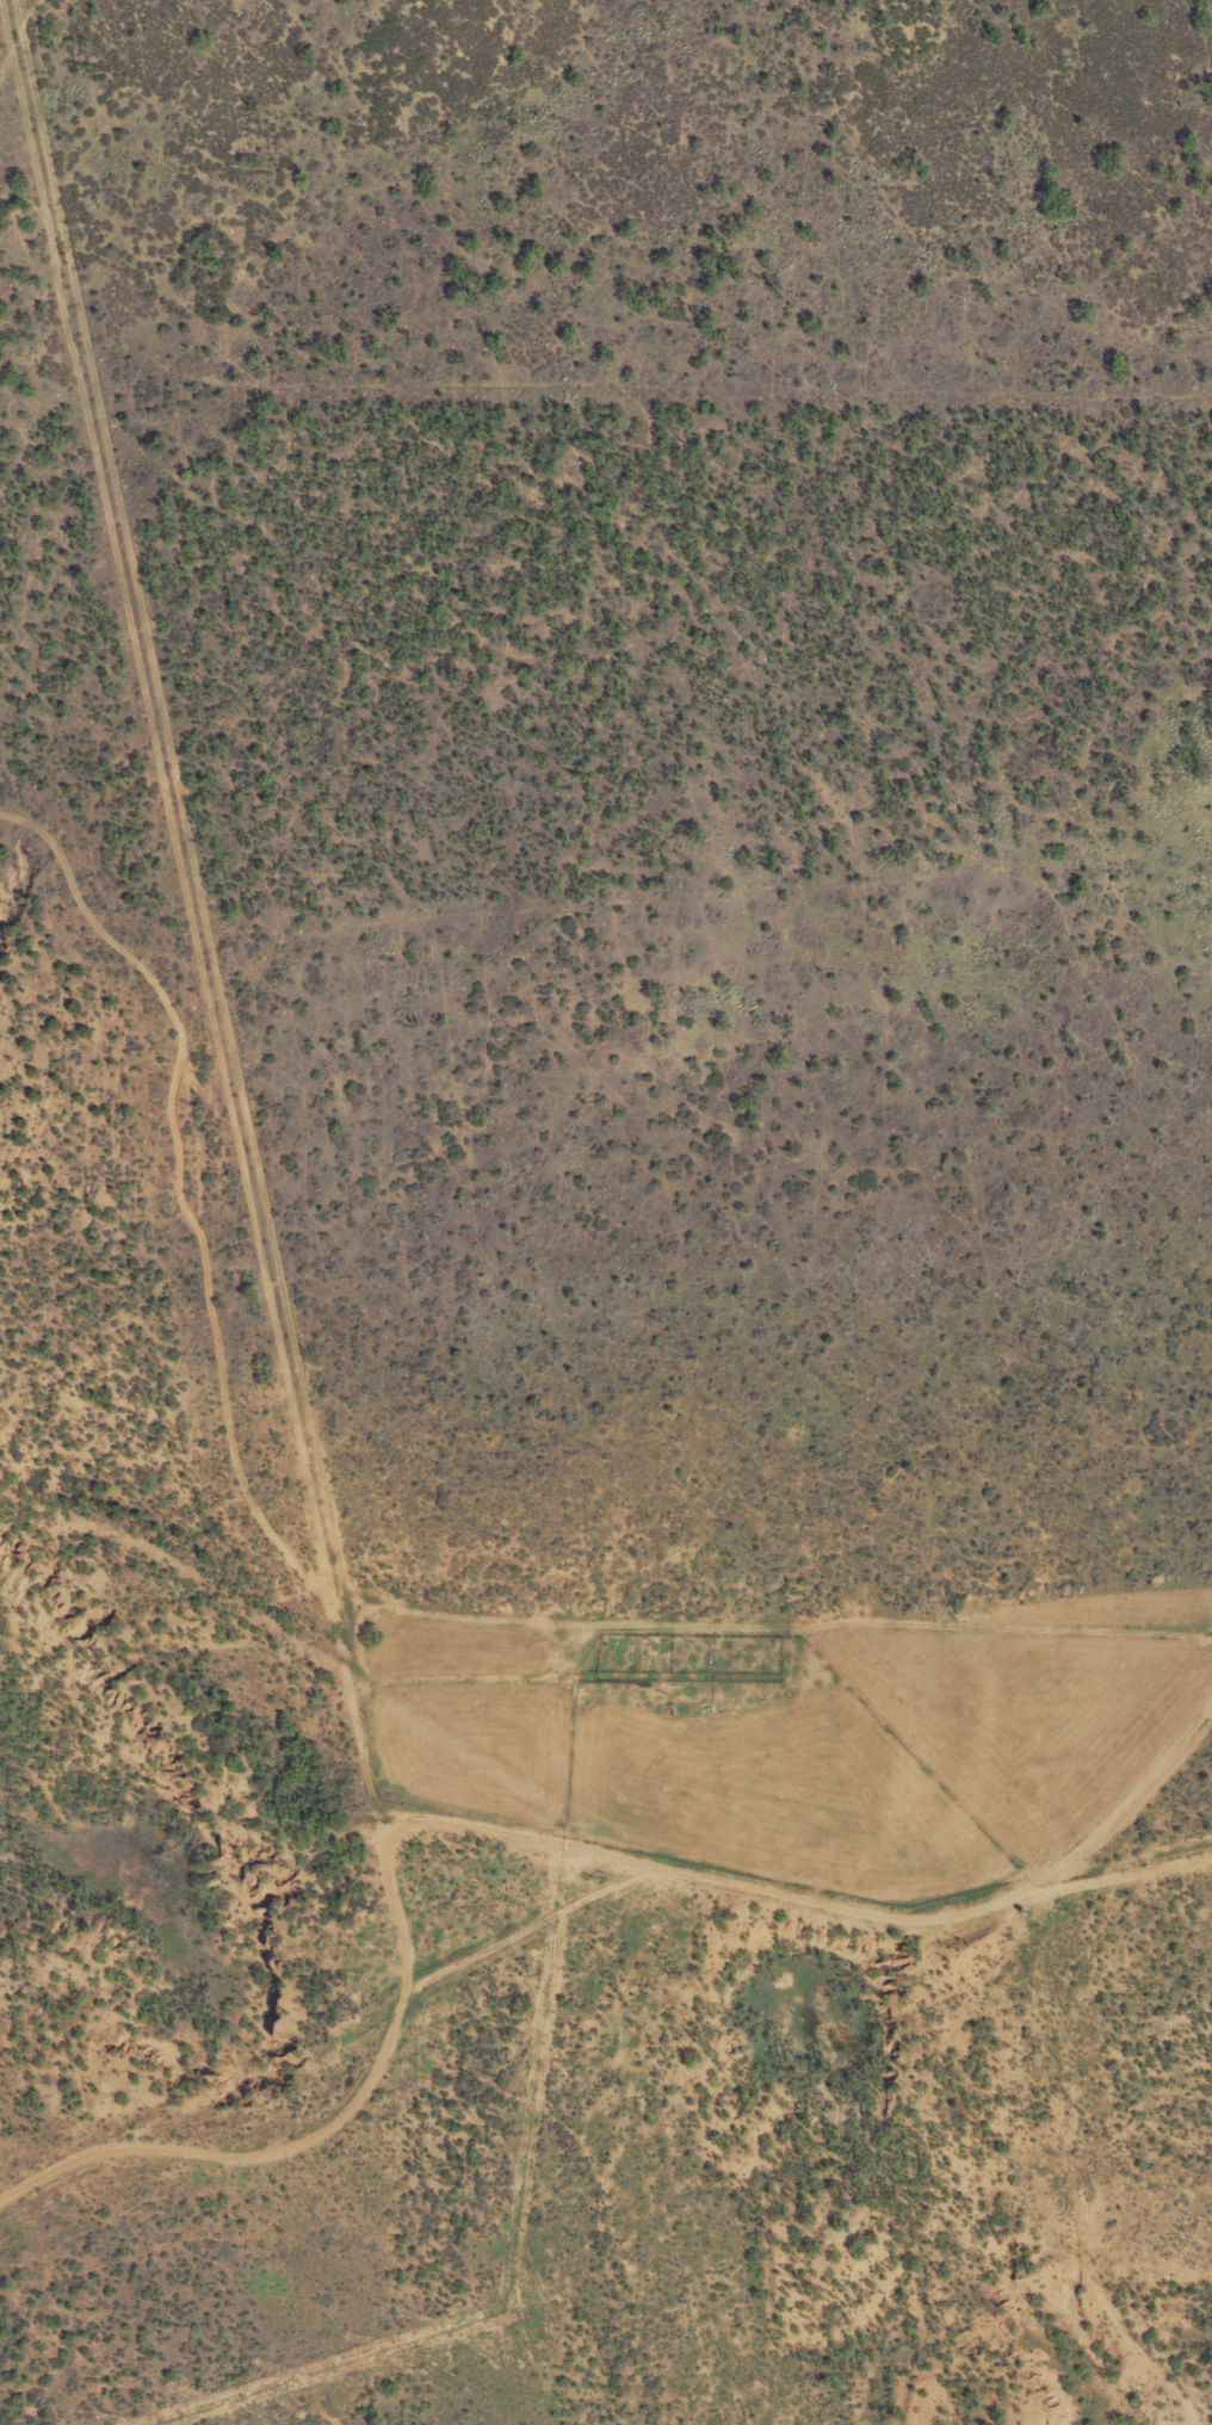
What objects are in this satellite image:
road: (18, 50)
road: (326, 1615)

